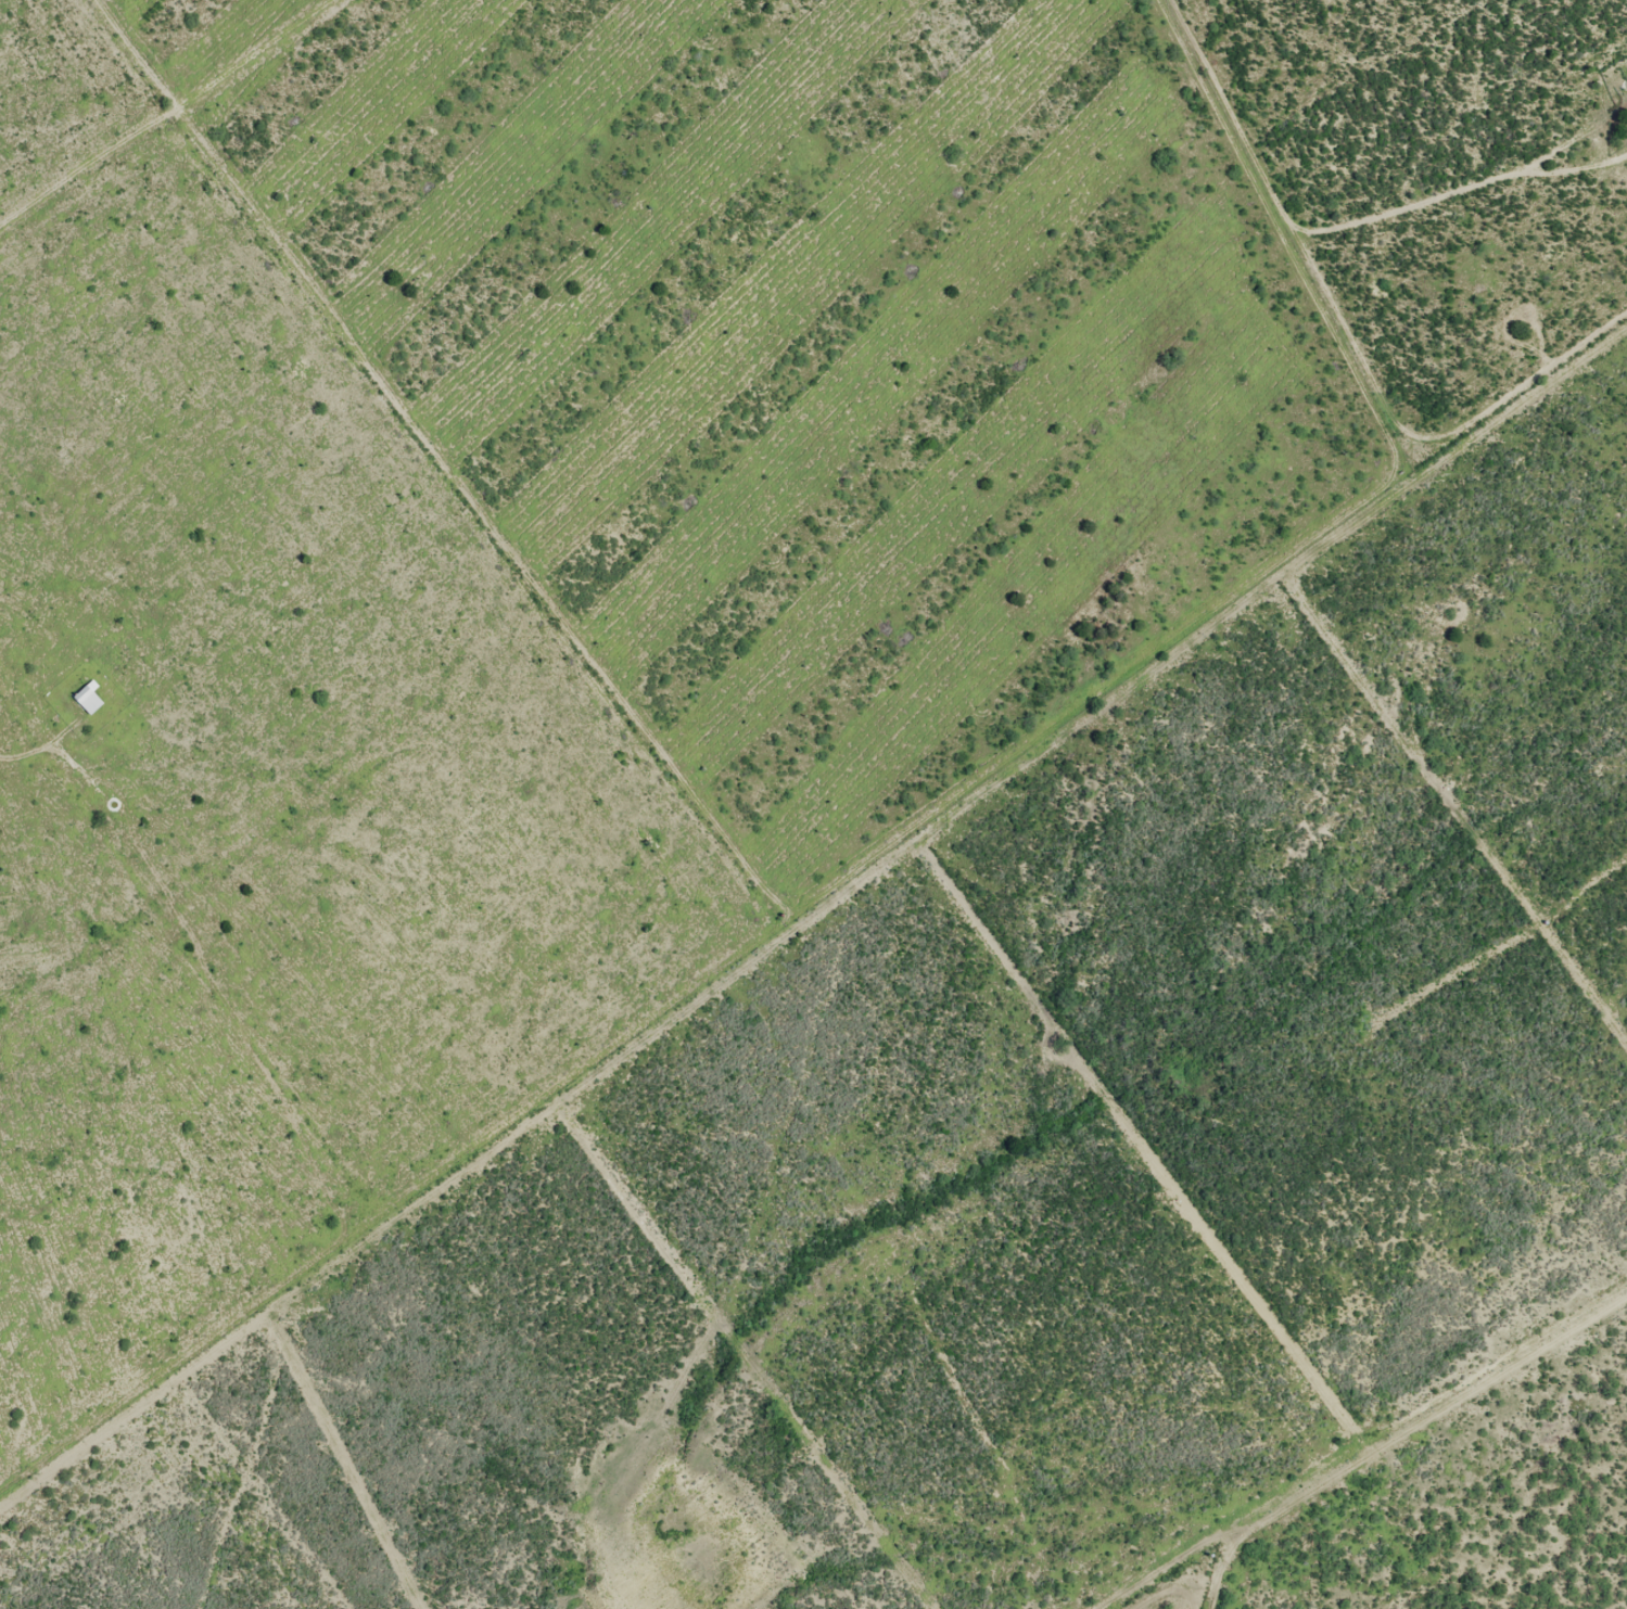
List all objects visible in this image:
road: (1551, 1527)

